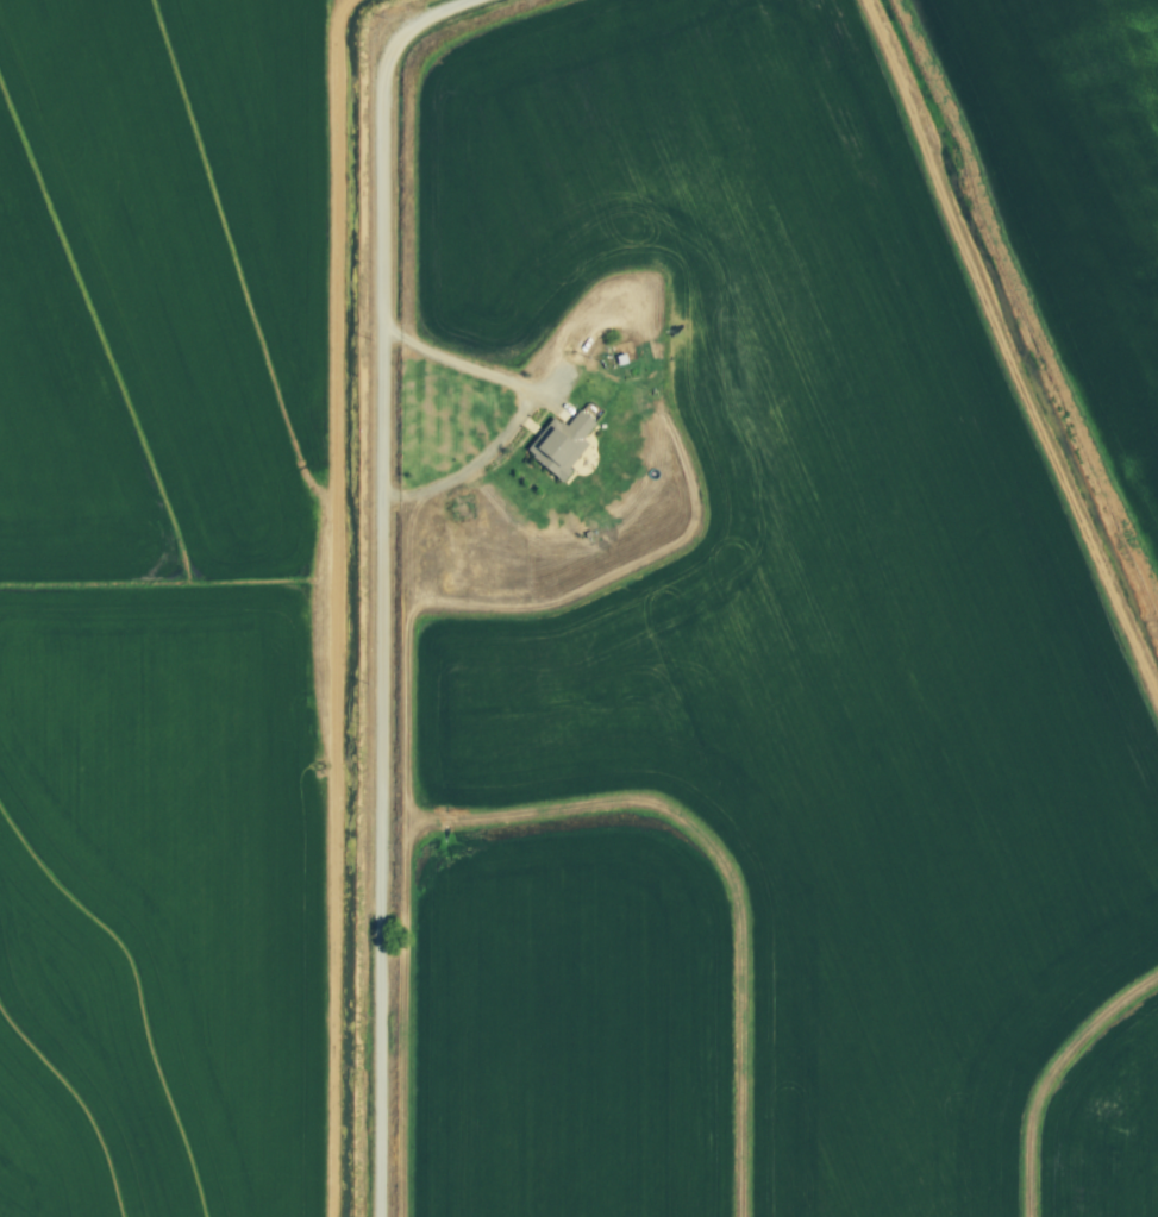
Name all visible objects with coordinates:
road: (533, 396)
building: (564, 444)
road: (365, 584)

